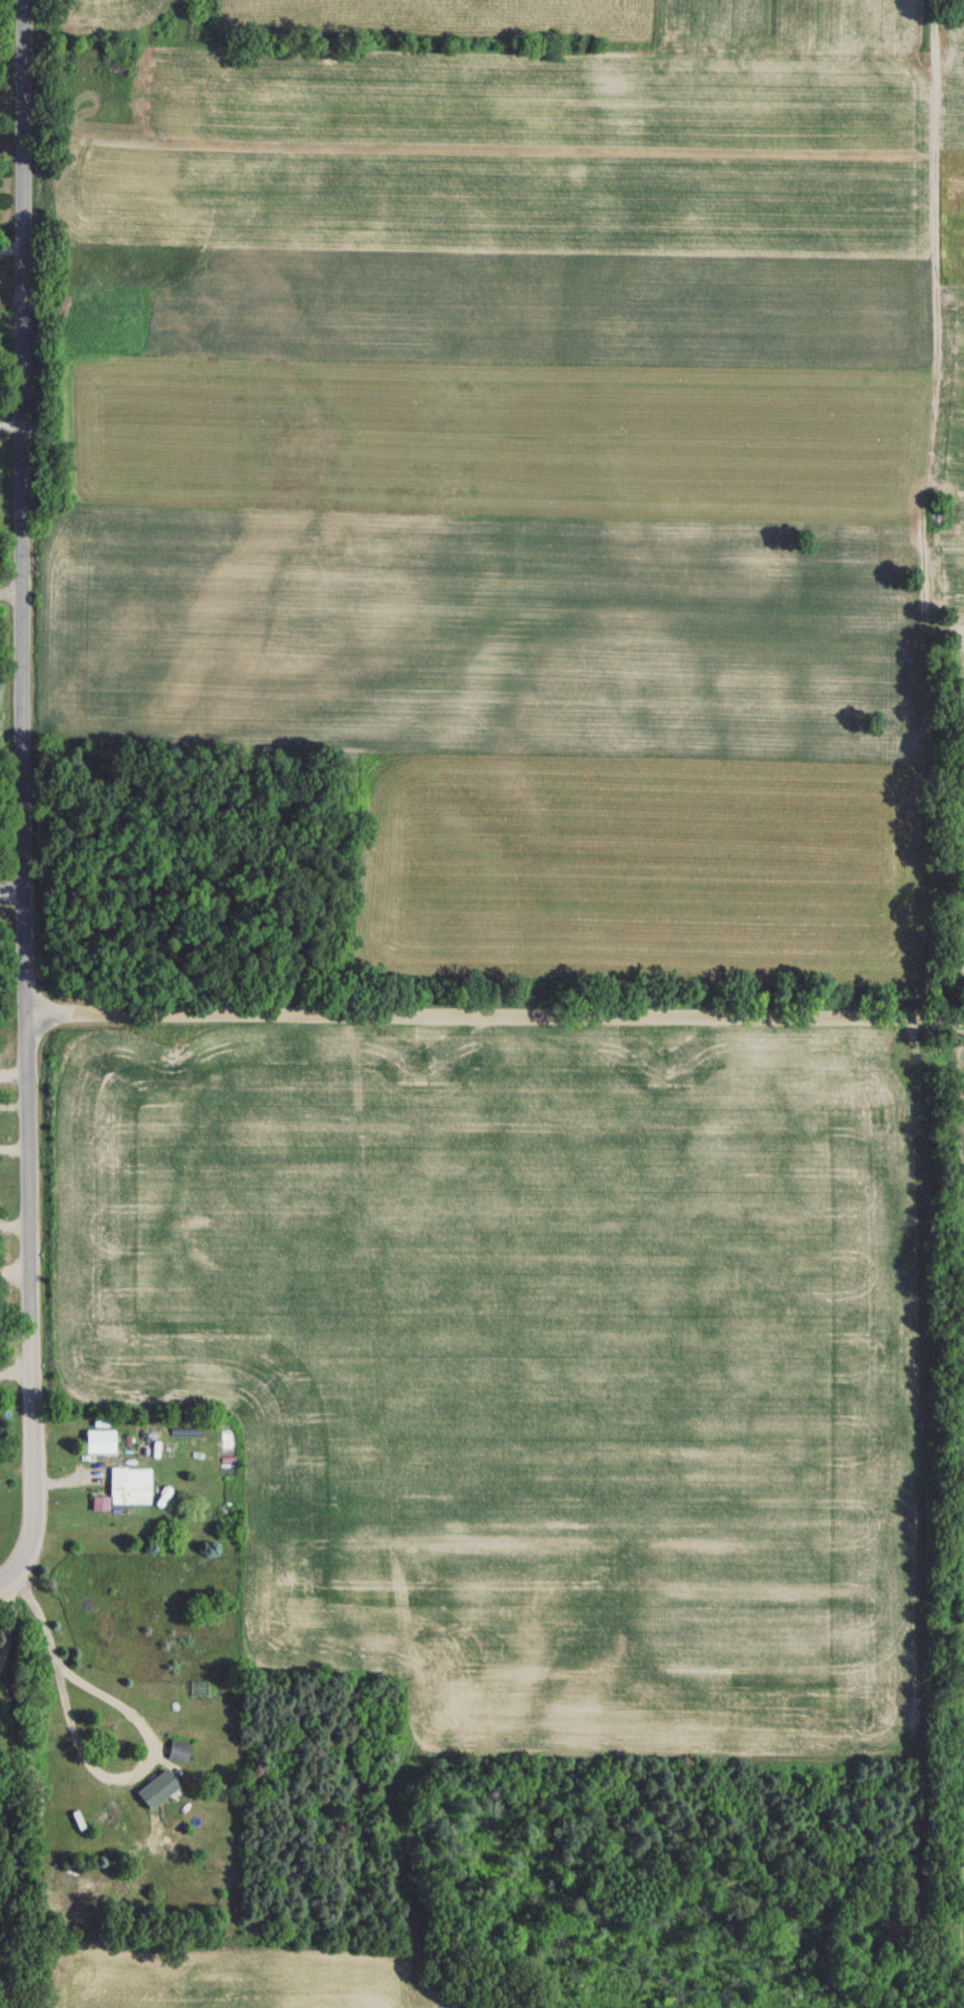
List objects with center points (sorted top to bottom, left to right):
road: (11, 426)
road: (23, 506)
road: (12, 593)
road: (12, 893)
road: (495, 1015)
road: (29, 1306)
building: (99, 1440)
building: (129, 1485)
road: (6, 1620)
building: (199, 1686)
building: (177, 1748)
road: (91, 1768)
building: (156, 1786)

